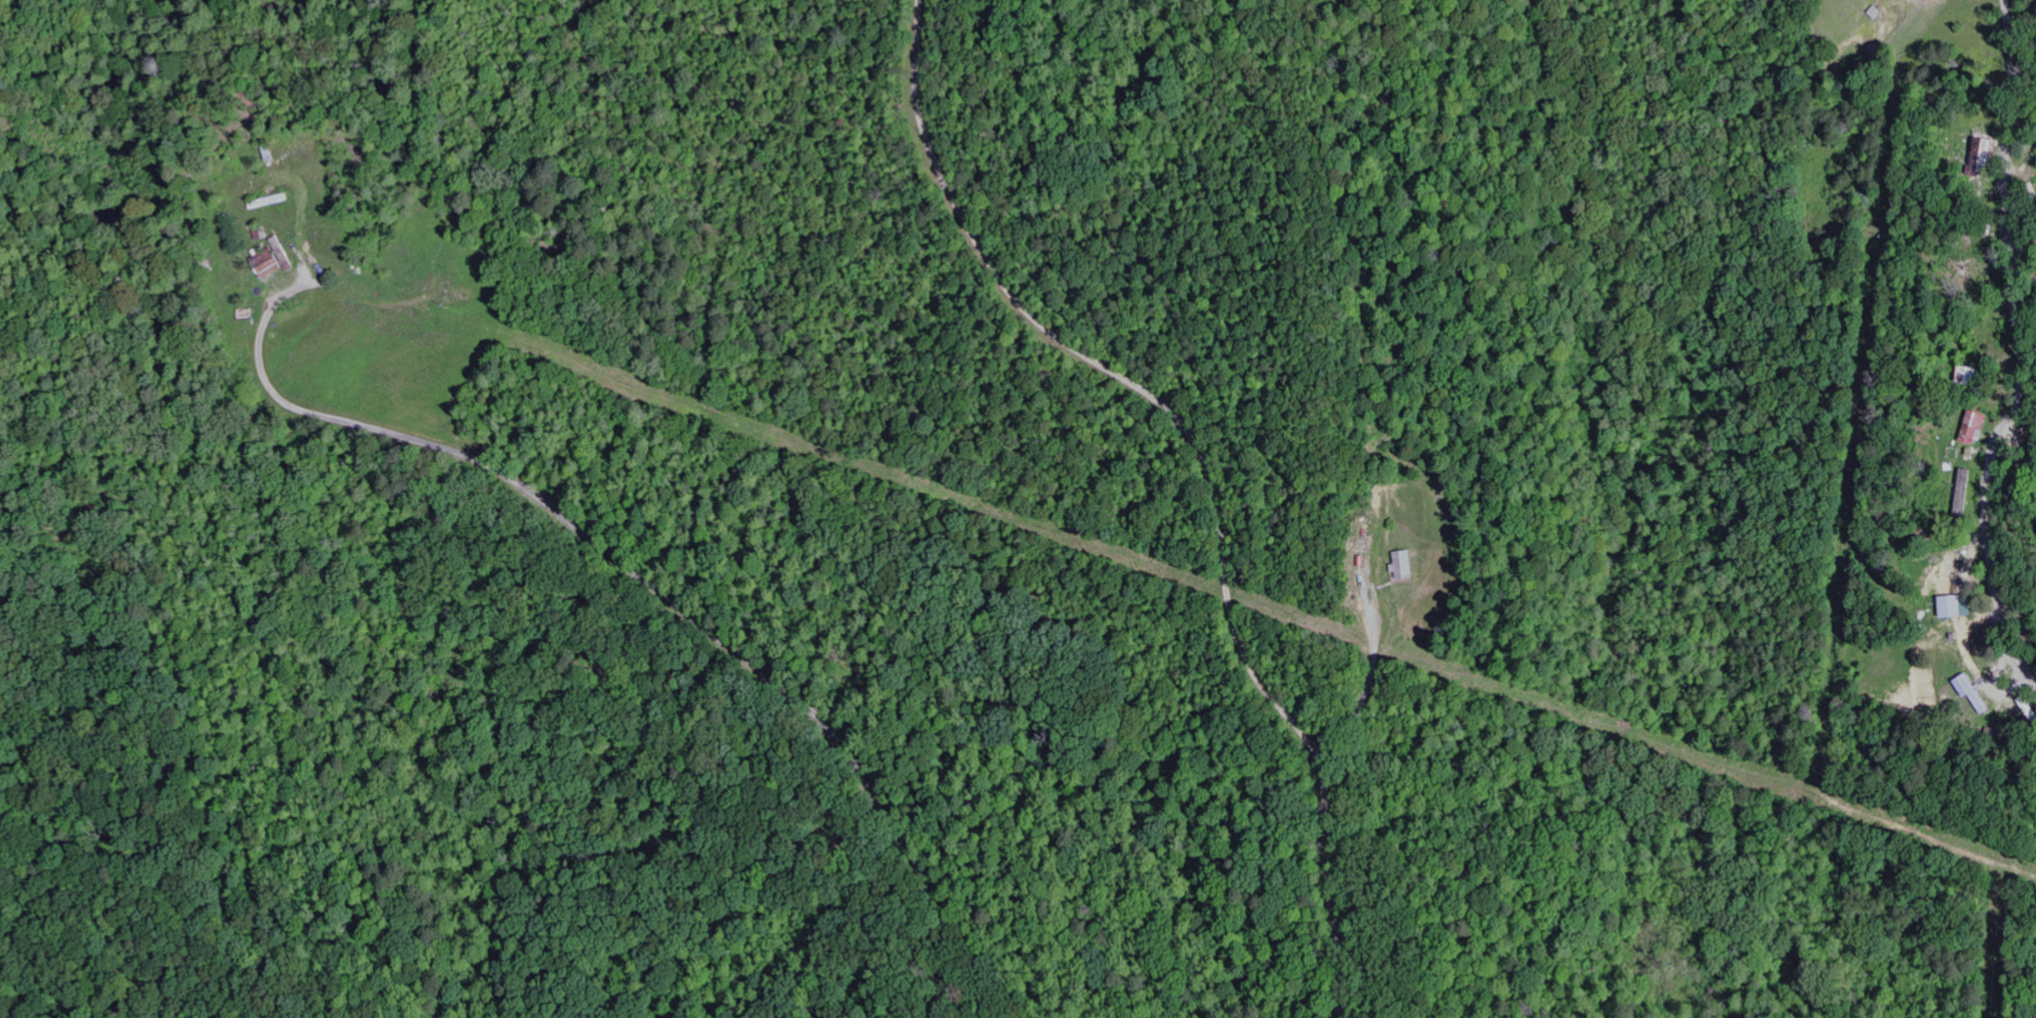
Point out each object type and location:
road: (1940, 75)
building: (276, 269)
road: (2023, 351)
building: (1979, 428)
road: (1205, 468)
building: (1408, 565)
road: (654, 583)
building: (1962, 607)
road: (1371, 688)
building: (1979, 693)

